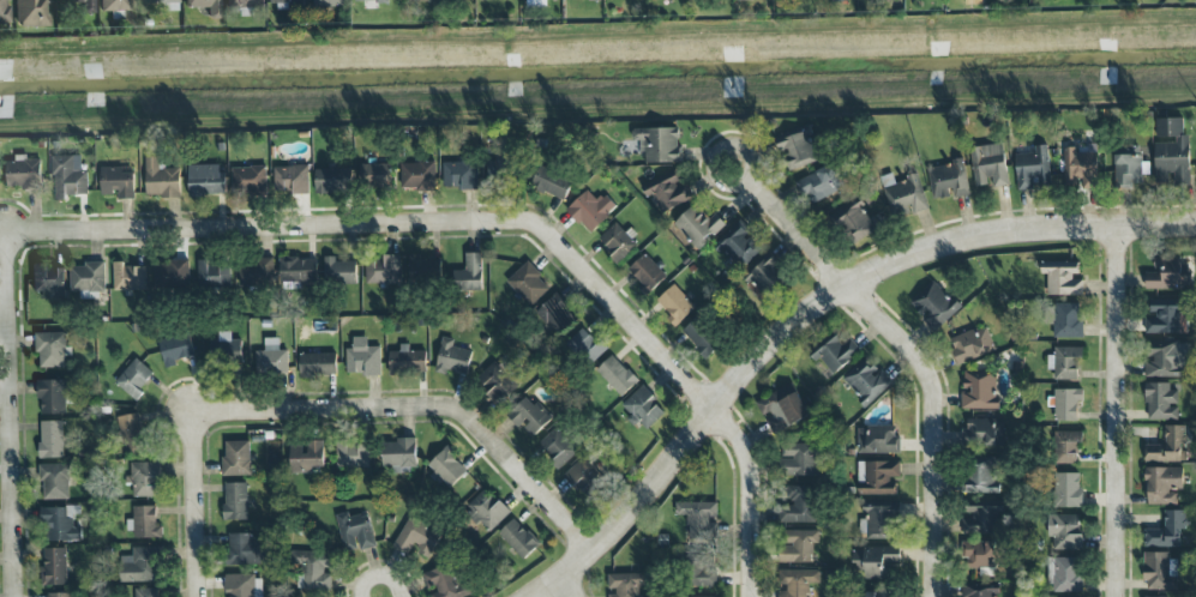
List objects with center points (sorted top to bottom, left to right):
building: (368, 0)
building: (425, 0)
building: (591, 0)
building: (327, 1)
building: (244, 2)
building: (286, 2)
building: (82, 5)
building: (158, 5)
building: (114, 6)
building: (4, 11)
building: (30, 13)
building: (214, 13)
road: (597, 37)
road: (597, 114)
building: (657, 143)
building: (798, 150)
building: (1172, 152)
building: (988, 164)
building: (1128, 167)
building: (1032, 168)
building: (504, 169)
building: (1080, 169)
building: (23, 173)
building: (374, 175)
building: (459, 175)
building: (68, 176)
building: (417, 176)
building: (161, 179)
building: (290, 179)
building: (205, 180)
building: (248, 180)
building: (332, 180)
building: (948, 180)
building: (116, 181)
building: (551, 182)
building: (819, 185)
building: (669, 193)
building: (903, 195)
road: (505, 206)
building: (590, 210)
building: (855, 222)
road: (794, 223)
road: (403, 224)
building: (698, 225)
building: (617, 242)
building: (422, 267)
building: (383, 269)
road: (11, 271)
building: (296, 271)
building: (338, 271)
building: (256, 272)
building: (469, 273)
building: (645, 273)
building: (172, 275)
building: (212, 275)
building: (1168, 275)
building: (765, 276)
building: (88, 277)
building: (128, 277)
building: (1062, 278)
building: (47, 282)
building: (527, 283)
building: (675, 304)
building: (934, 306)
road: (813, 309)
building: (555, 315)
building: (1165, 319)
building: (1066, 320)
building: (702, 338)
building: (970, 345)
building: (585, 346)
building: (50, 349)
building: (176, 349)
building: (226, 354)
building: (836, 354)
building: (452, 357)
building: (270, 358)
building: (362, 358)
building: (1162, 358)
building: (407, 361)
building: (1064, 361)
building: (317, 363)
building: (615, 375)
building: (133, 378)
building: (498, 381)
building: (866, 381)
road: (1128, 387)
building: (979, 390)
road: (431, 393)
building: (52, 397)
building: (1160, 402)
building: (1066, 404)
building: (643, 408)
building: (781, 408)
road: (1119, 411)
building: (529, 416)
road: (1105, 418)
road: (939, 423)
building: (985, 432)
building: (130, 433)
building: (50, 439)
building: (877, 440)
building: (1065, 446)
building: (1167, 446)
building: (558, 447)
road: (14, 453)
building: (351, 454)
building: (398, 454)
building: (306, 456)
building: (236, 458)
building: (799, 459)
building: (446, 466)
building: (981, 475)
building: (582, 476)
building: (877, 477)
building: (144, 478)
building: (54, 482)
building: (1162, 484)
building: (1068, 489)
road: (198, 497)
road: (755, 499)
building: (235, 501)
building: (798, 505)
road: (732, 506)
building: (486, 509)
building: (982, 517)
building: (698, 519)
building: (879, 521)
building: (60, 523)
building: (144, 523)
building: (1166, 530)
building: (354, 531)
building: (1064, 531)
building: (416, 537)
building: (517, 538)
building: (797, 545)
building: (247, 550)
building: (984, 554)
building: (872, 561)
road: (378, 562)
building: (137, 565)
building: (54, 566)
building: (703, 568)
building: (313, 569)
building: (1159, 571)
building: (1064, 574)
road: (381, 575)
building: (444, 581)
building: (795, 581)
building: (626, 584)
building: (244, 585)
road: (554, 591)
building: (146, 592)
building: (979, 592)
building: (59, 595)
building: (876, 595)
building: (1154, 596)

